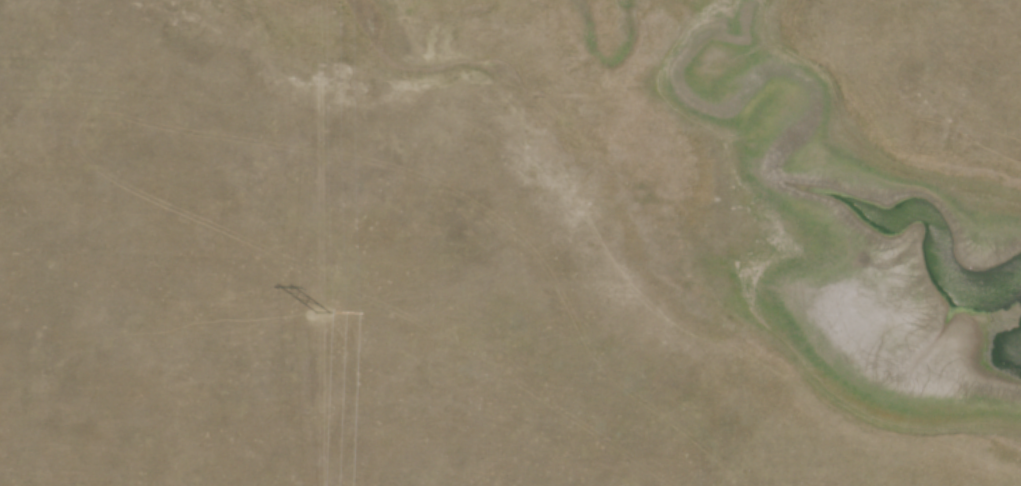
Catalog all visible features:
power tower: (321, 408)

